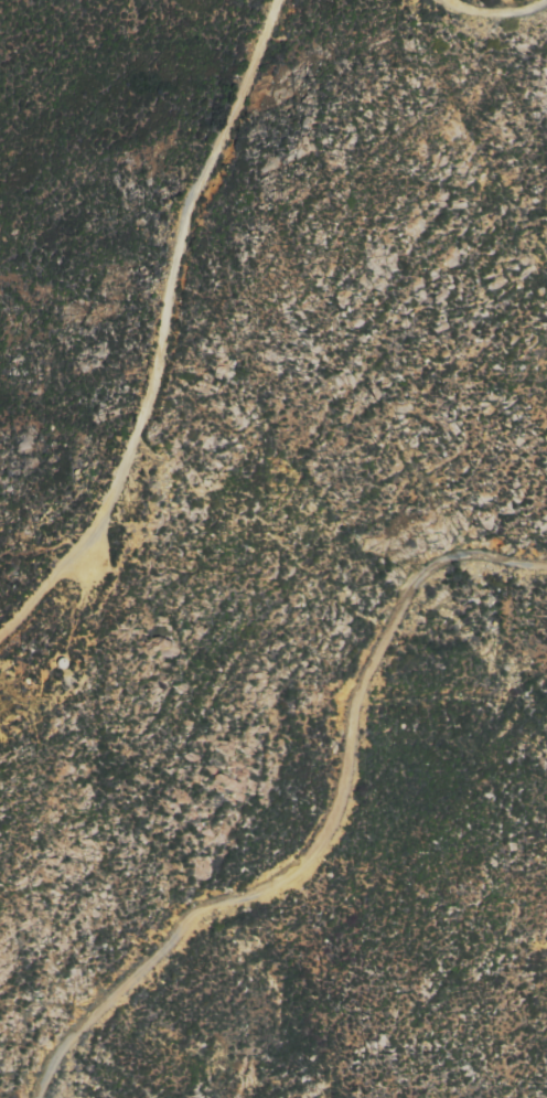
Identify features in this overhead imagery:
road: (489, 26)
road: (163, 333)
road: (41, 544)
water tower: (61, 683)
road: (337, 833)

